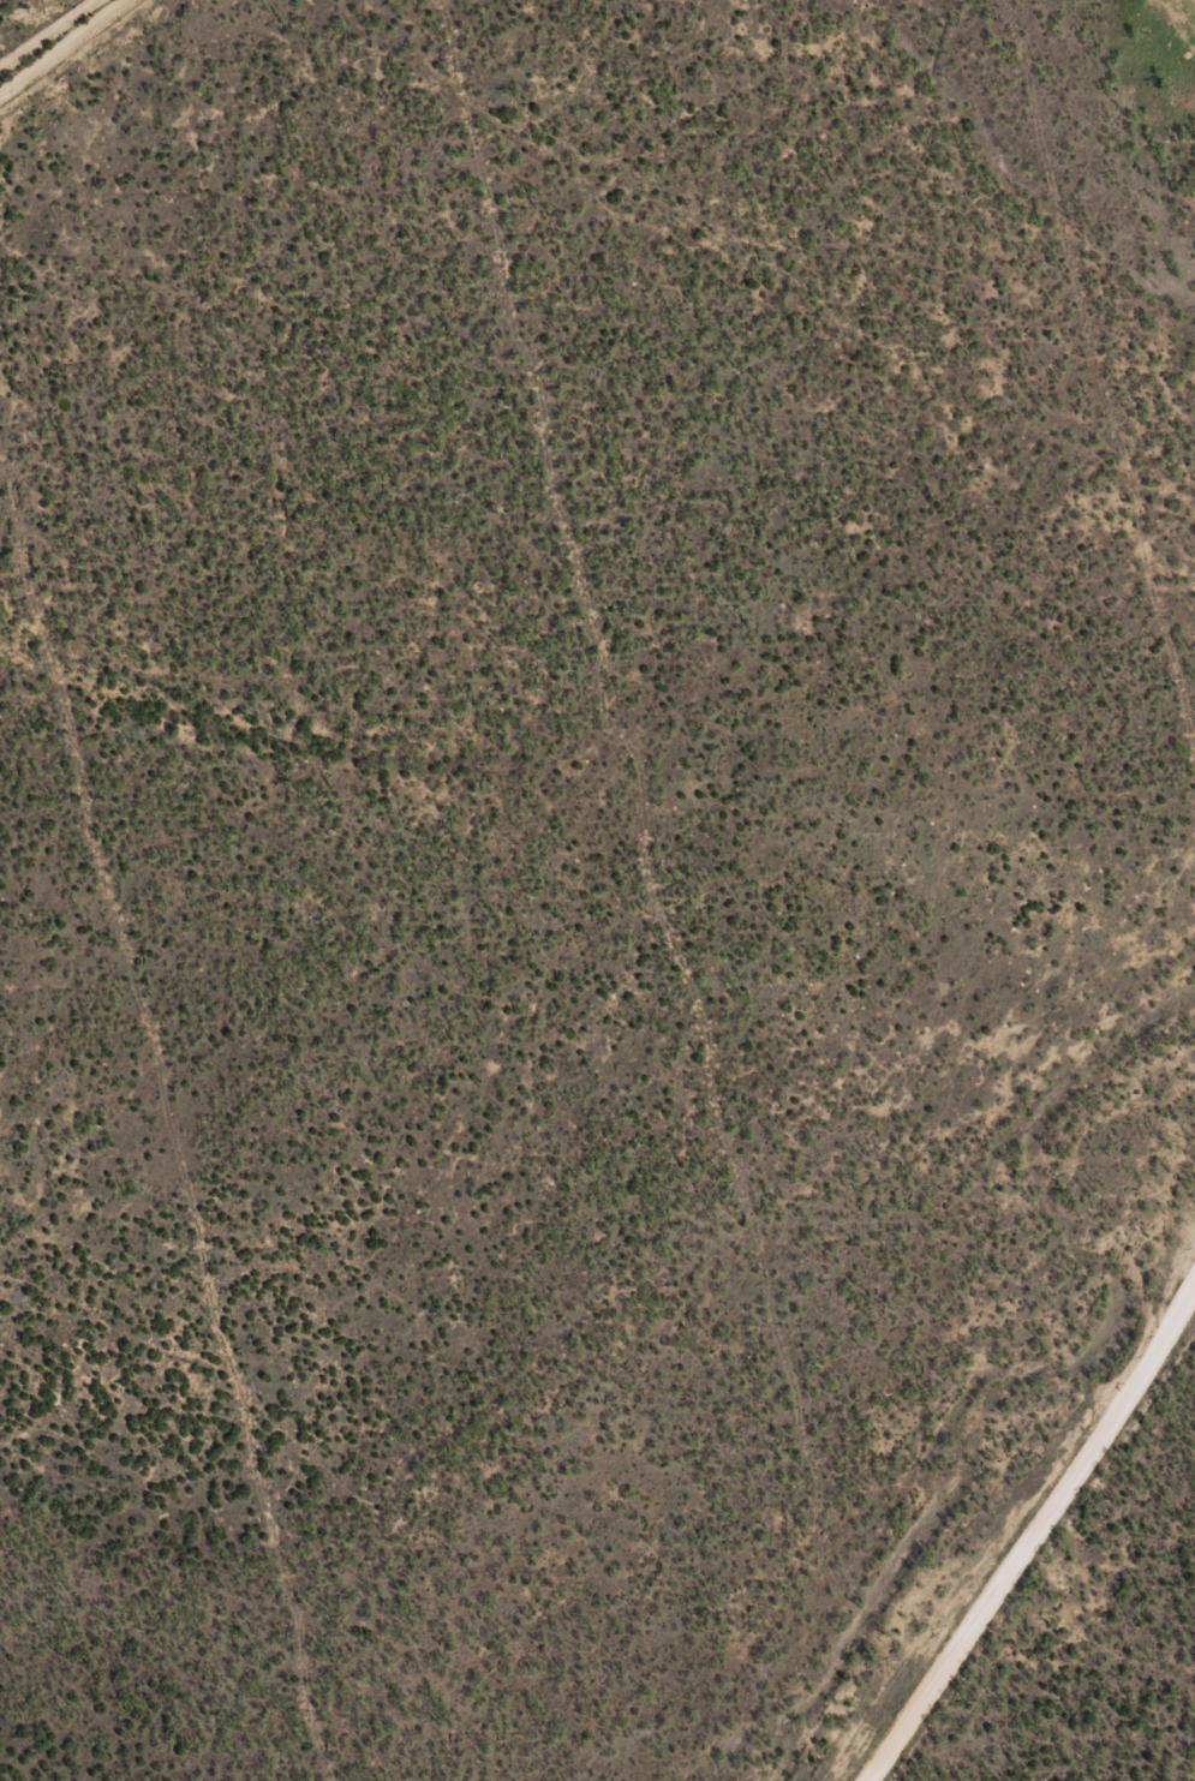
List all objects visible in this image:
road: (1050, 1561)

